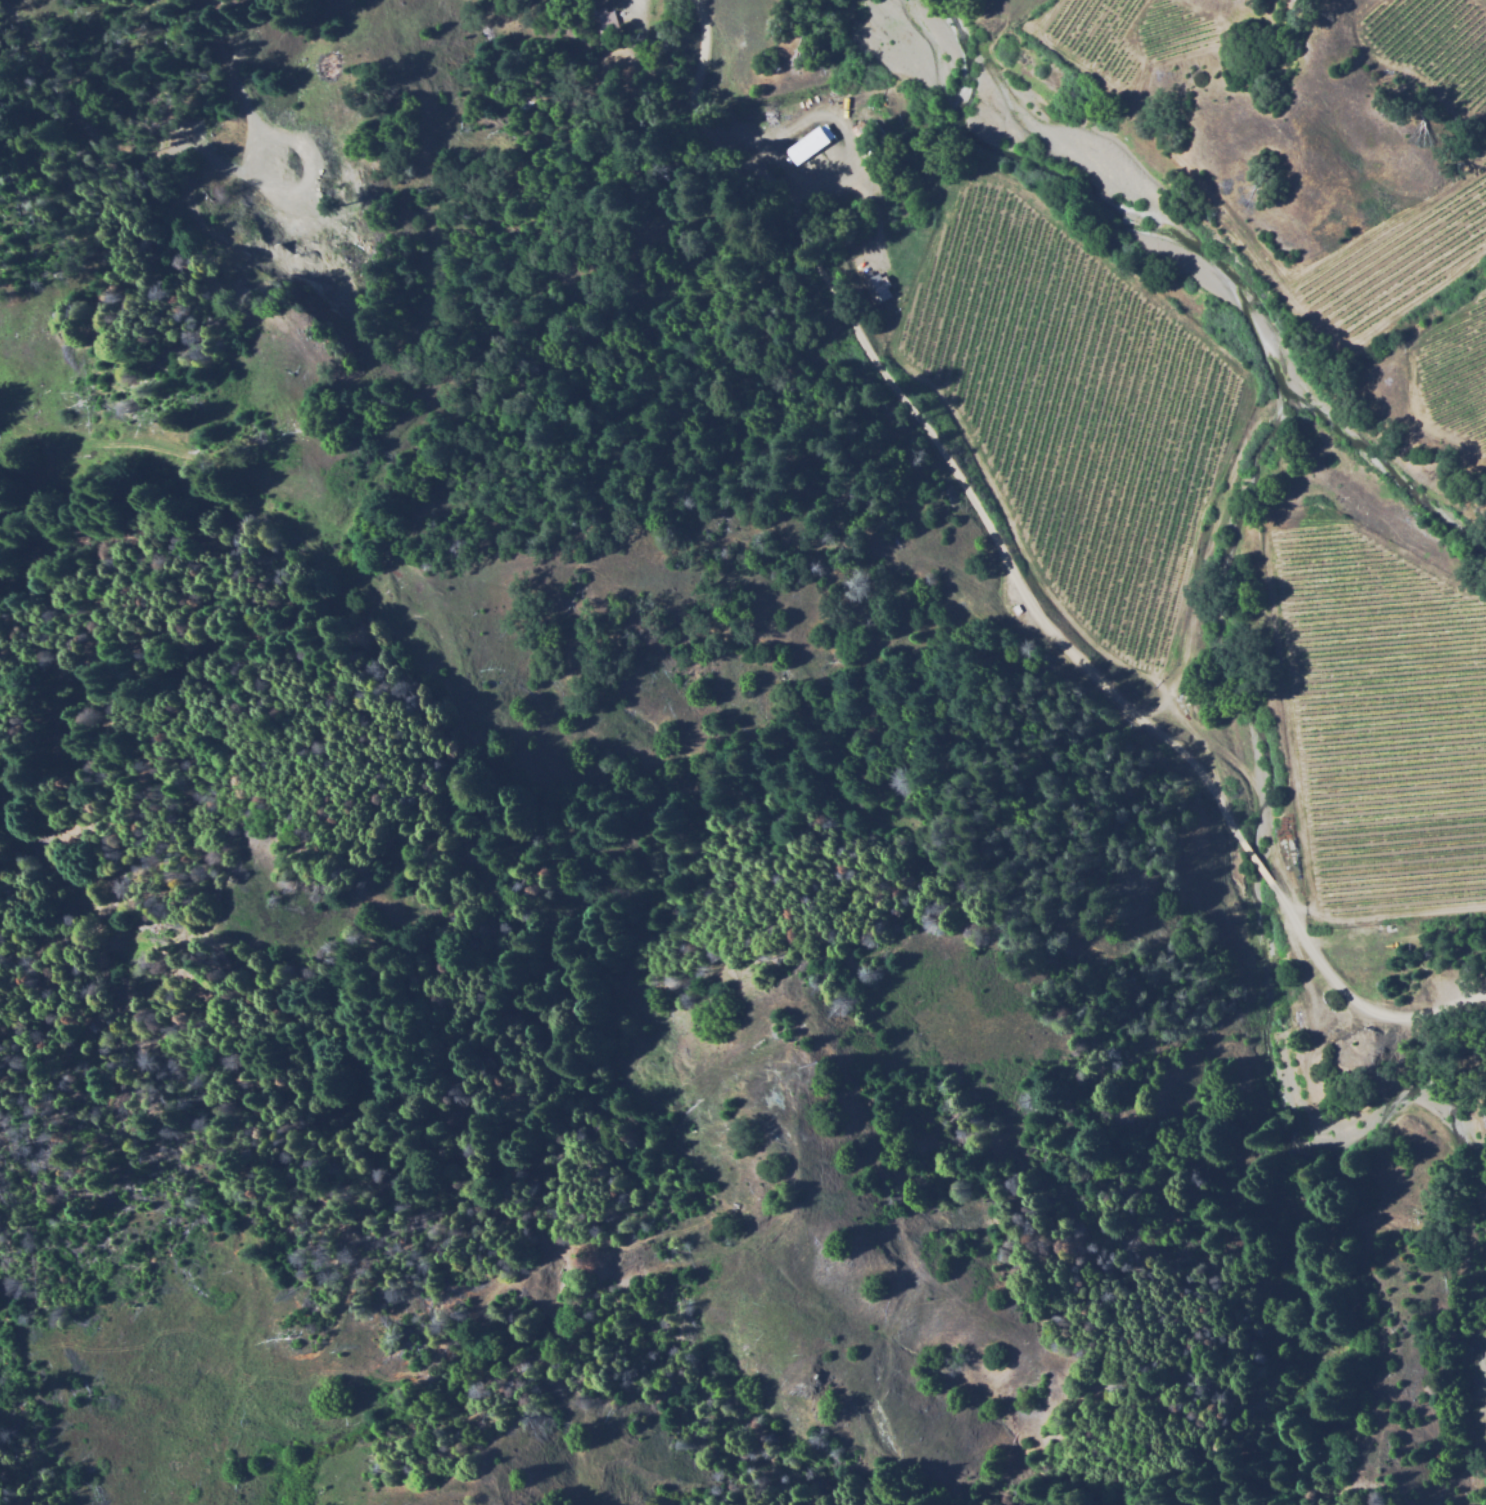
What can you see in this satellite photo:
building: (870, 139)
building: (813, 145)
building: (877, 286)
road: (1170, 545)
road: (1024, 577)
building: (1022, 609)
road: (1158, 693)

